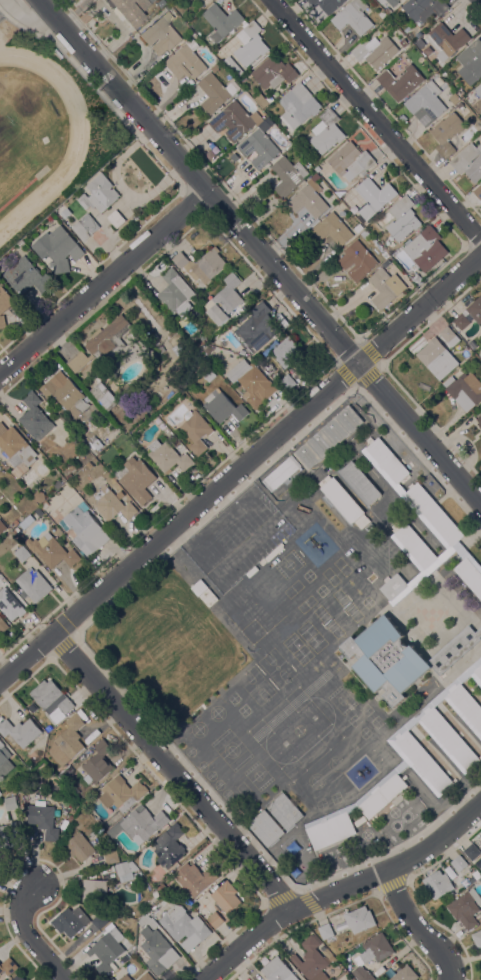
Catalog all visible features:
building: (183, 0)
road: (480, 0)
building: (188, 1)
building: (159, 2)
building: (392, 2)
building: (327, 5)
building: (423, 9)
building: (130, 10)
building: (353, 18)
building: (222, 21)
building: (161, 35)
building: (447, 40)
building: (403, 43)
building: (250, 44)
power tower: (128, 51)
building: (375, 52)
building: (186, 60)
building: (471, 62)
building: (215, 67)
building: (274, 72)
building: (401, 82)
building: (478, 91)
building: (215, 93)
building: (461, 93)
building: (454, 99)
building: (263, 100)
building: (426, 104)
building: (459, 105)
building: (299, 106)
road: (375, 120)
building: (480, 120)
building: (235, 121)
building: (326, 132)
building: (447, 134)
building: (259, 148)
building: (350, 160)
building: (469, 161)
building: (288, 176)
building: (315, 178)
building: (478, 191)
building: (99, 195)
building: (374, 197)
building: (308, 201)
building: (62, 212)
building: (116, 219)
building: (402, 219)
building: (85, 227)
building: (332, 230)
building: (365, 233)
building: (58, 249)
building: (426, 249)
road: (260, 251)
building: (357, 261)
building: (202, 265)
building: (27, 277)
building: (417, 279)
road: (104, 282)
building: (386, 288)
building: (176, 294)
building: (5, 300)
building: (225, 300)
building: (475, 310)
building: (240, 311)
building: (2, 322)
building: (462, 322)
building: (256, 328)
building: (448, 336)
building: (203, 338)
building: (480, 338)
building: (102, 344)
building: (202, 344)
building: (473, 345)
building: (161, 349)
building: (270, 349)
building: (207, 350)
building: (242, 352)
building: (287, 352)
building: (434, 356)
building: (208, 374)
building: (279, 376)
building: (252, 384)
building: (178, 385)
building: (465, 390)
building: (65, 394)
building: (104, 396)
building: (223, 407)
building: (35, 418)
building: (479, 421)
building: (196, 431)
building: (329, 437)
building: (175, 442)
building: (95, 443)
building: (17, 452)
building: (168, 457)
building: (387, 460)
road: (240, 469)
building: (282, 473)
building: (68, 476)
building: (136, 479)
building: (360, 483)
building: (342, 500)
building: (111, 504)
building: (44, 506)
building: (420, 514)
building: (434, 514)
building: (15, 523)
building: (2, 527)
building: (85, 531)
building: (10, 537)
building: (416, 546)
building: (21, 552)
building: (54, 552)
building: (470, 575)
building: (34, 585)
building: (394, 587)
building: (199, 588)
building: (24, 595)
building: (10, 605)
building: (480, 625)
building: (3, 626)
building: (401, 657)
building: (46, 693)
building: (65, 706)
building: (20, 732)
building: (67, 742)
building: (4, 760)
building: (412, 761)
building: (97, 764)
road: (171, 771)
building: (0, 794)
building: (122, 794)
building: (10, 802)
building: (285, 812)
building: (70, 818)
building: (43, 819)
building: (139, 825)
building: (266, 828)
building: (9, 836)
building: (480, 836)
building: (79, 847)
building: (169, 847)
building: (472, 851)
building: (111, 857)
building: (459, 863)
building: (479, 863)
building: (125, 871)
building: (195, 879)
building: (438, 884)
building: (163, 889)
road: (341, 889)
building: (95, 891)
building: (154, 894)
building: (225, 898)
building: (465, 908)
building: (215, 920)
building: (359, 920)
building: (99, 921)
building: (147, 921)
building: (70, 922)
building: (183, 925)
road: (415, 928)
building: (326, 931)
road: (29, 937)
building: (477, 939)
building: (107, 951)
building: (158, 951)
building: (327, 954)
building: (372, 955)
building: (311, 960)
building: (8, 967)
building: (394, 967)
building: (278, 971)
building: (405, 974)
building: (125, 977)
building: (146, 977)
building: (18, 978)

